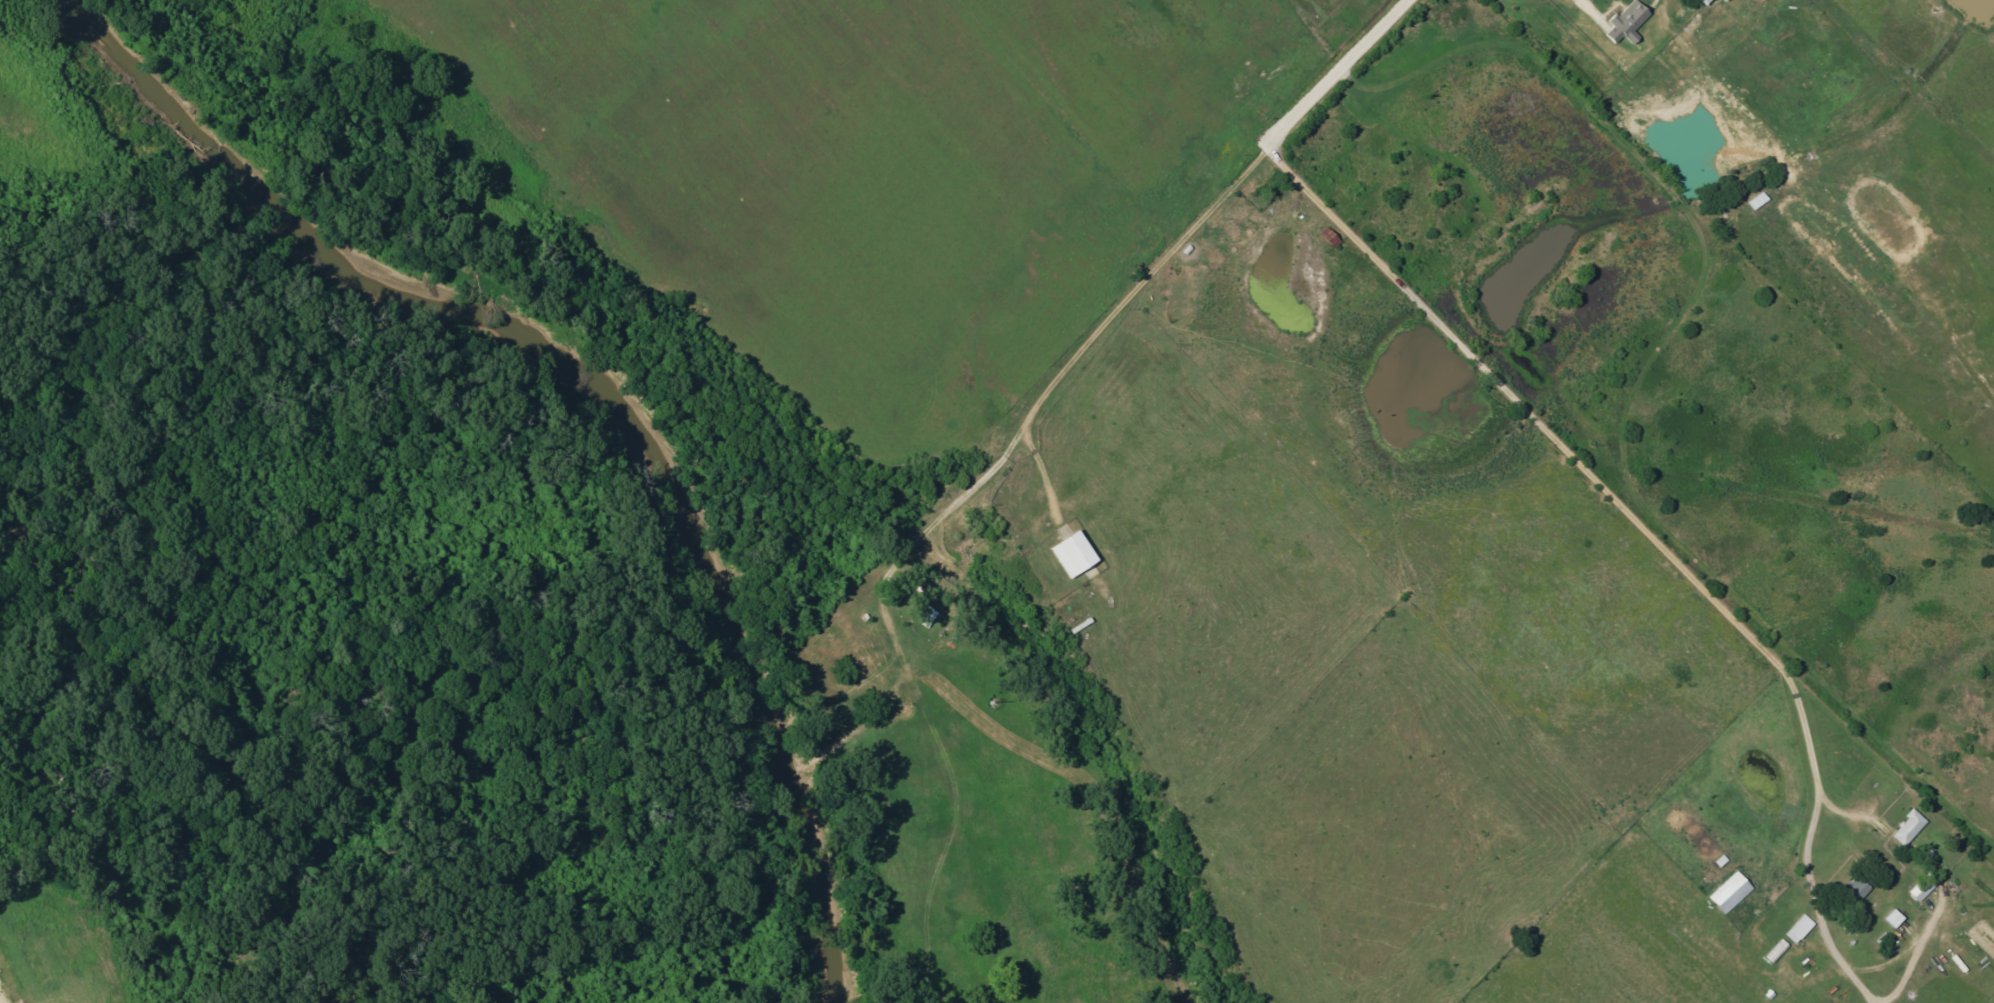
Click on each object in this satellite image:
building: (1726, 0)
building: (1707, 1)
building: (1629, 21)
road: (1339, 68)
road: (1140, 284)
river: (595, 388)
building: (1076, 553)
building: (1910, 827)
building: (1927, 884)
building: (1732, 892)
building: (1801, 928)

